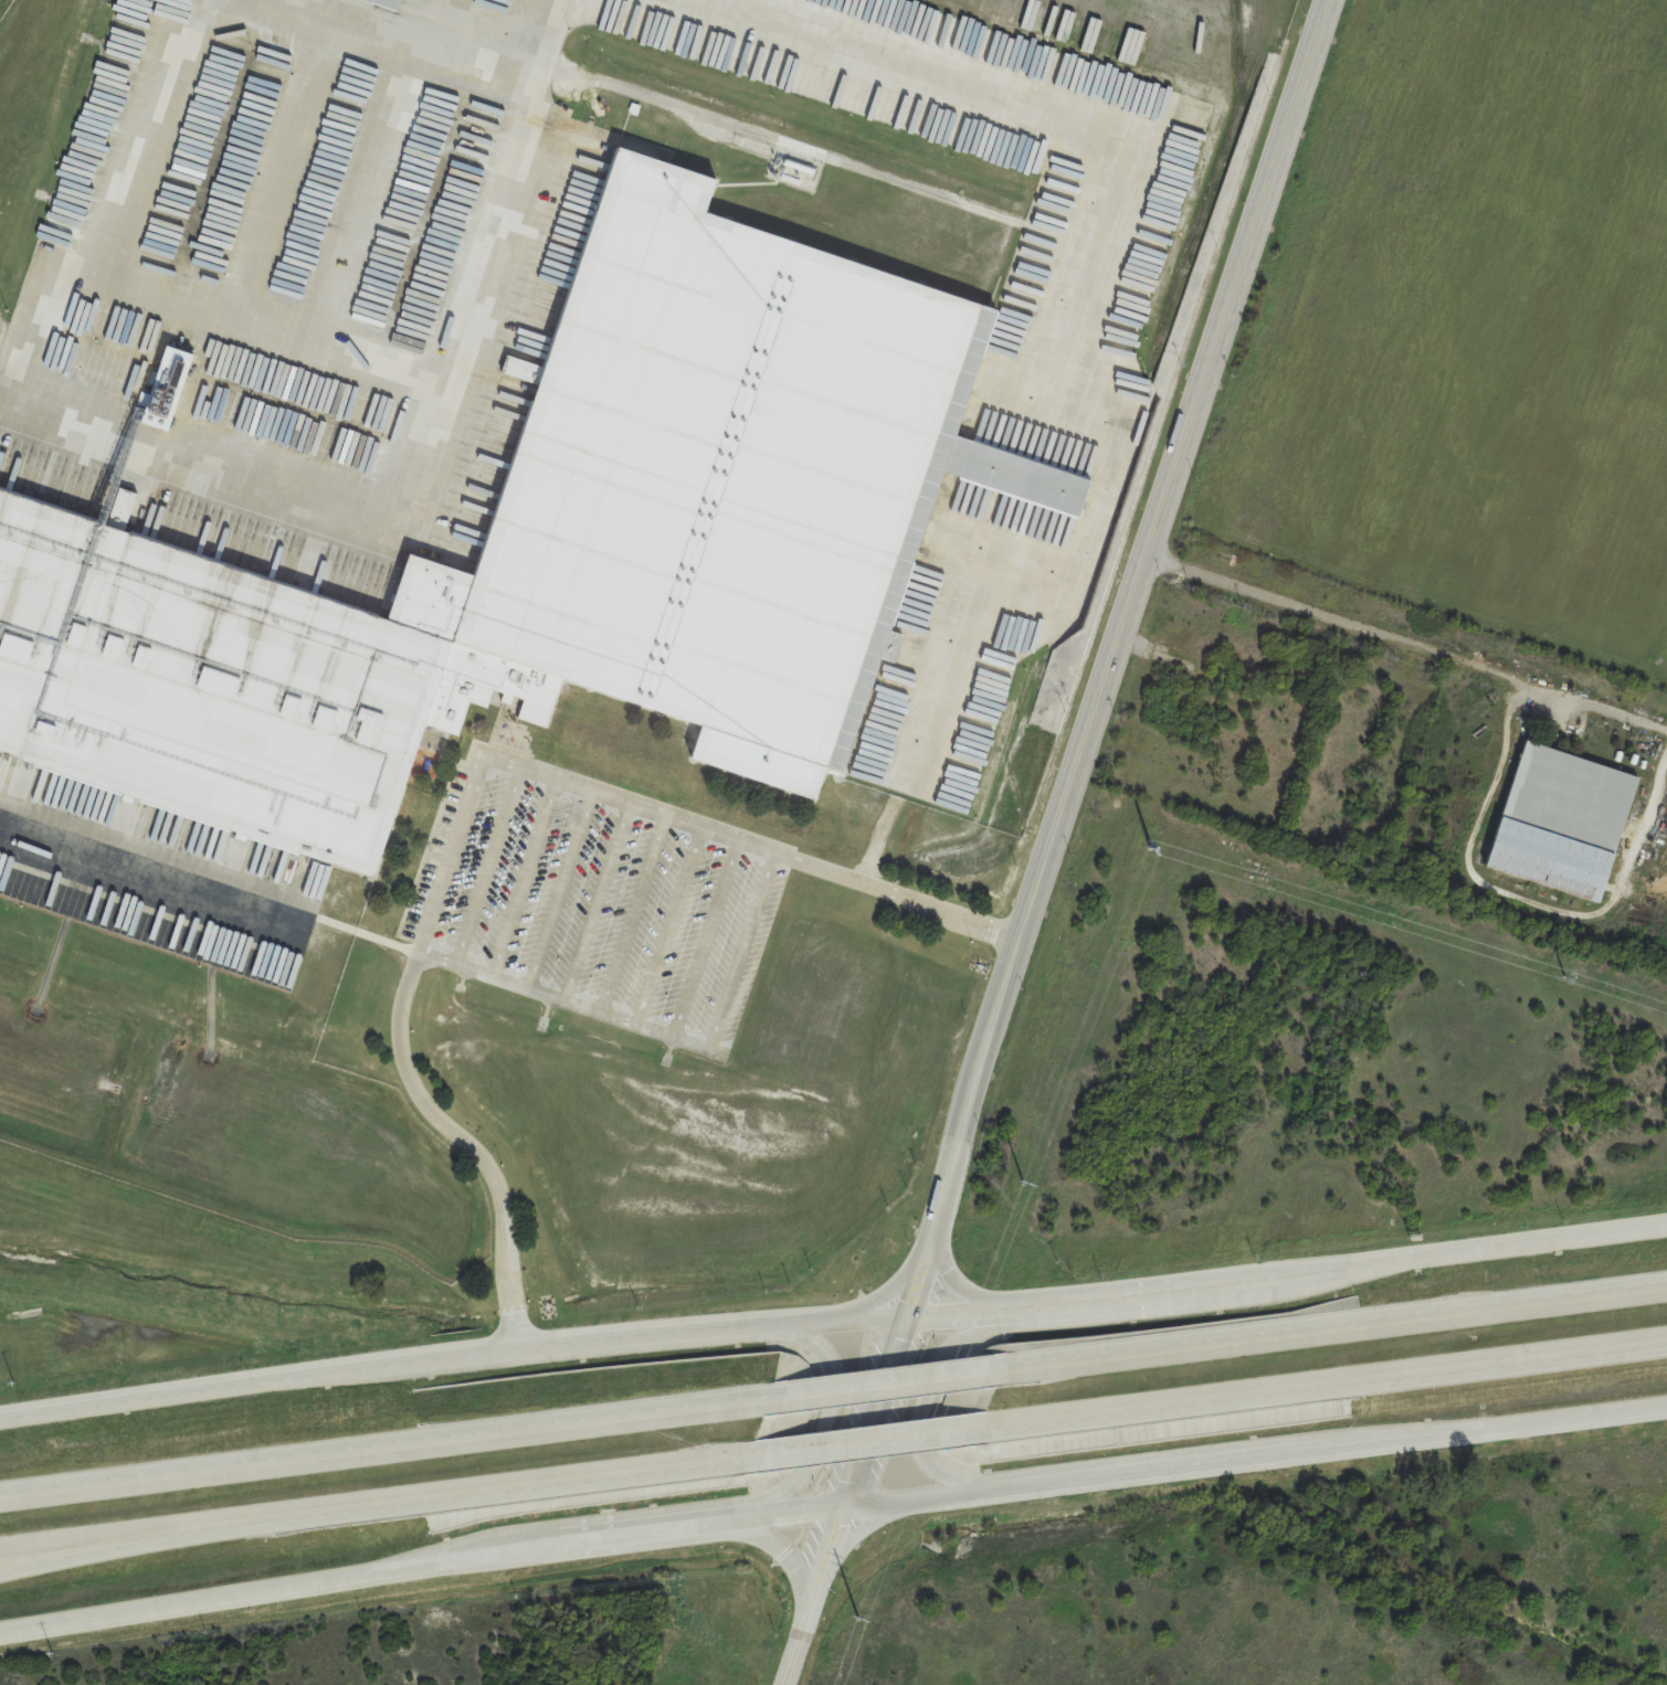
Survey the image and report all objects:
building: (380, 3)
road: (440, 24)
road: (409, 42)
road: (550, 42)
road: (1080, 292)
road: (279, 325)
building: (1021, 478)
building: (539, 557)
road: (1406, 640)
building: (718, 750)
road: (529, 772)
building: (1558, 822)
road: (1053, 841)
power tower: (1154, 849)
road: (487, 868)
road: (521, 879)
road: (560, 891)
road: (897, 897)
road: (594, 903)
road: (631, 914)
road: (668, 926)
road: (704, 939)
road: (739, 950)
power tower: (1568, 975)
road: (403, 1019)
power tower: (1020, 1199)
road: (1283, 1279)
road: (1646, 1291)
road: (1304, 1332)
road: (447, 1358)
road: (876, 1380)
road: (936, 1385)
road: (1312, 1389)
road: (831, 1412)
road: (384, 1442)
road: (855, 1446)
road: (456, 1495)
road: (831, 1506)
road: (80, 1551)
power tower: (865, 1604)

